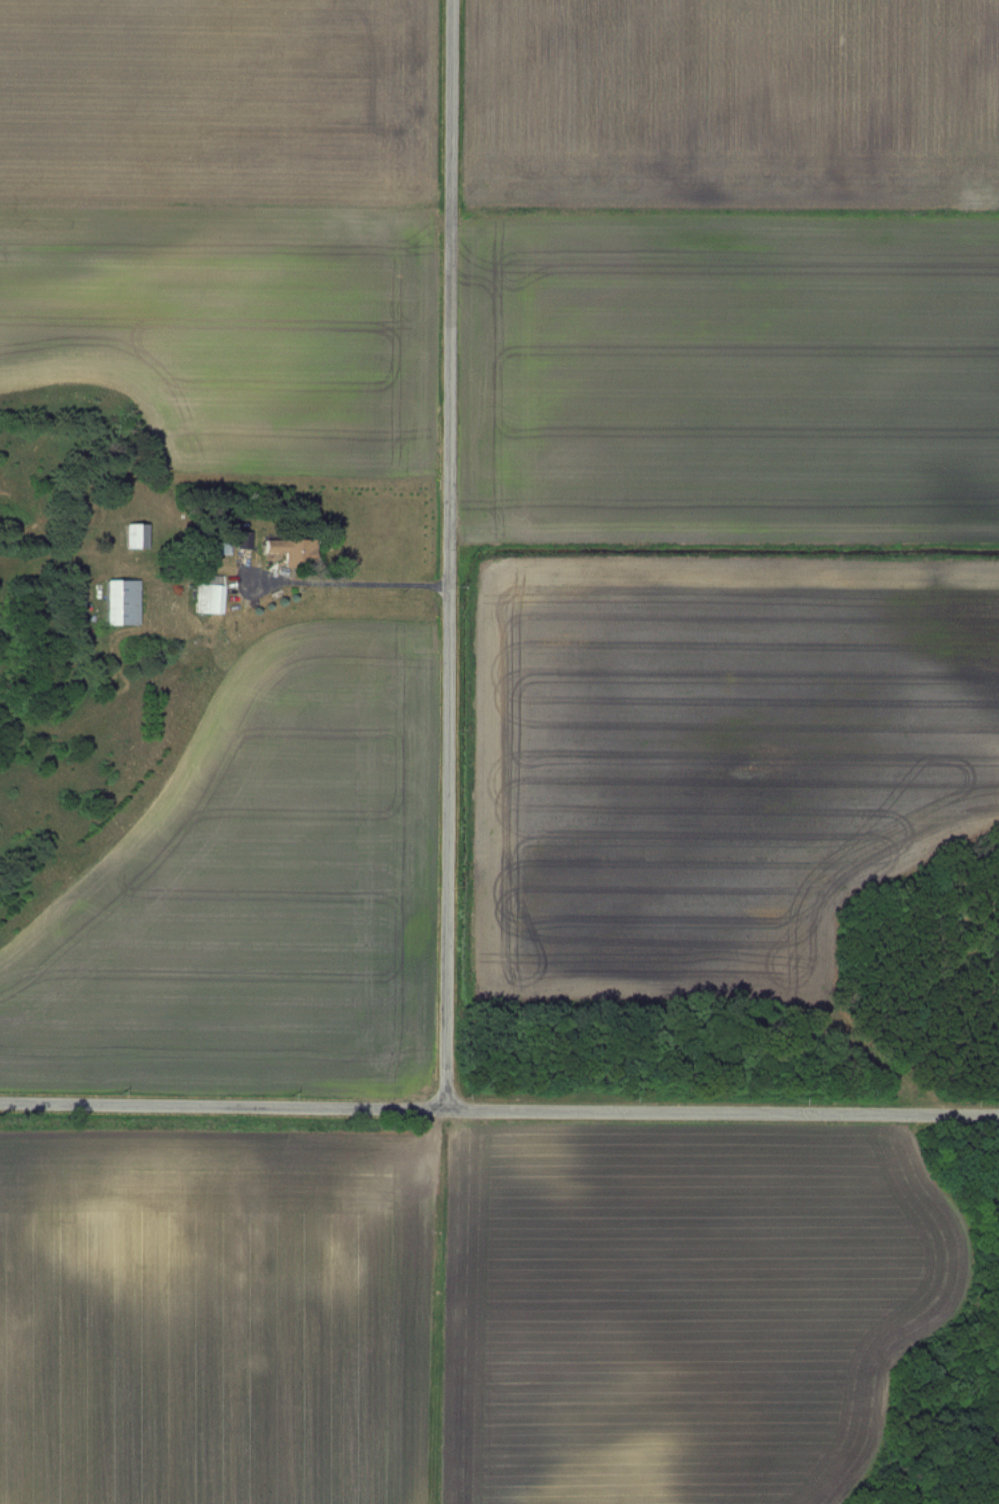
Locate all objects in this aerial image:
building: (137, 537)
building: (279, 550)
road: (447, 550)
building: (210, 596)
building: (123, 602)
road: (499, 1102)

